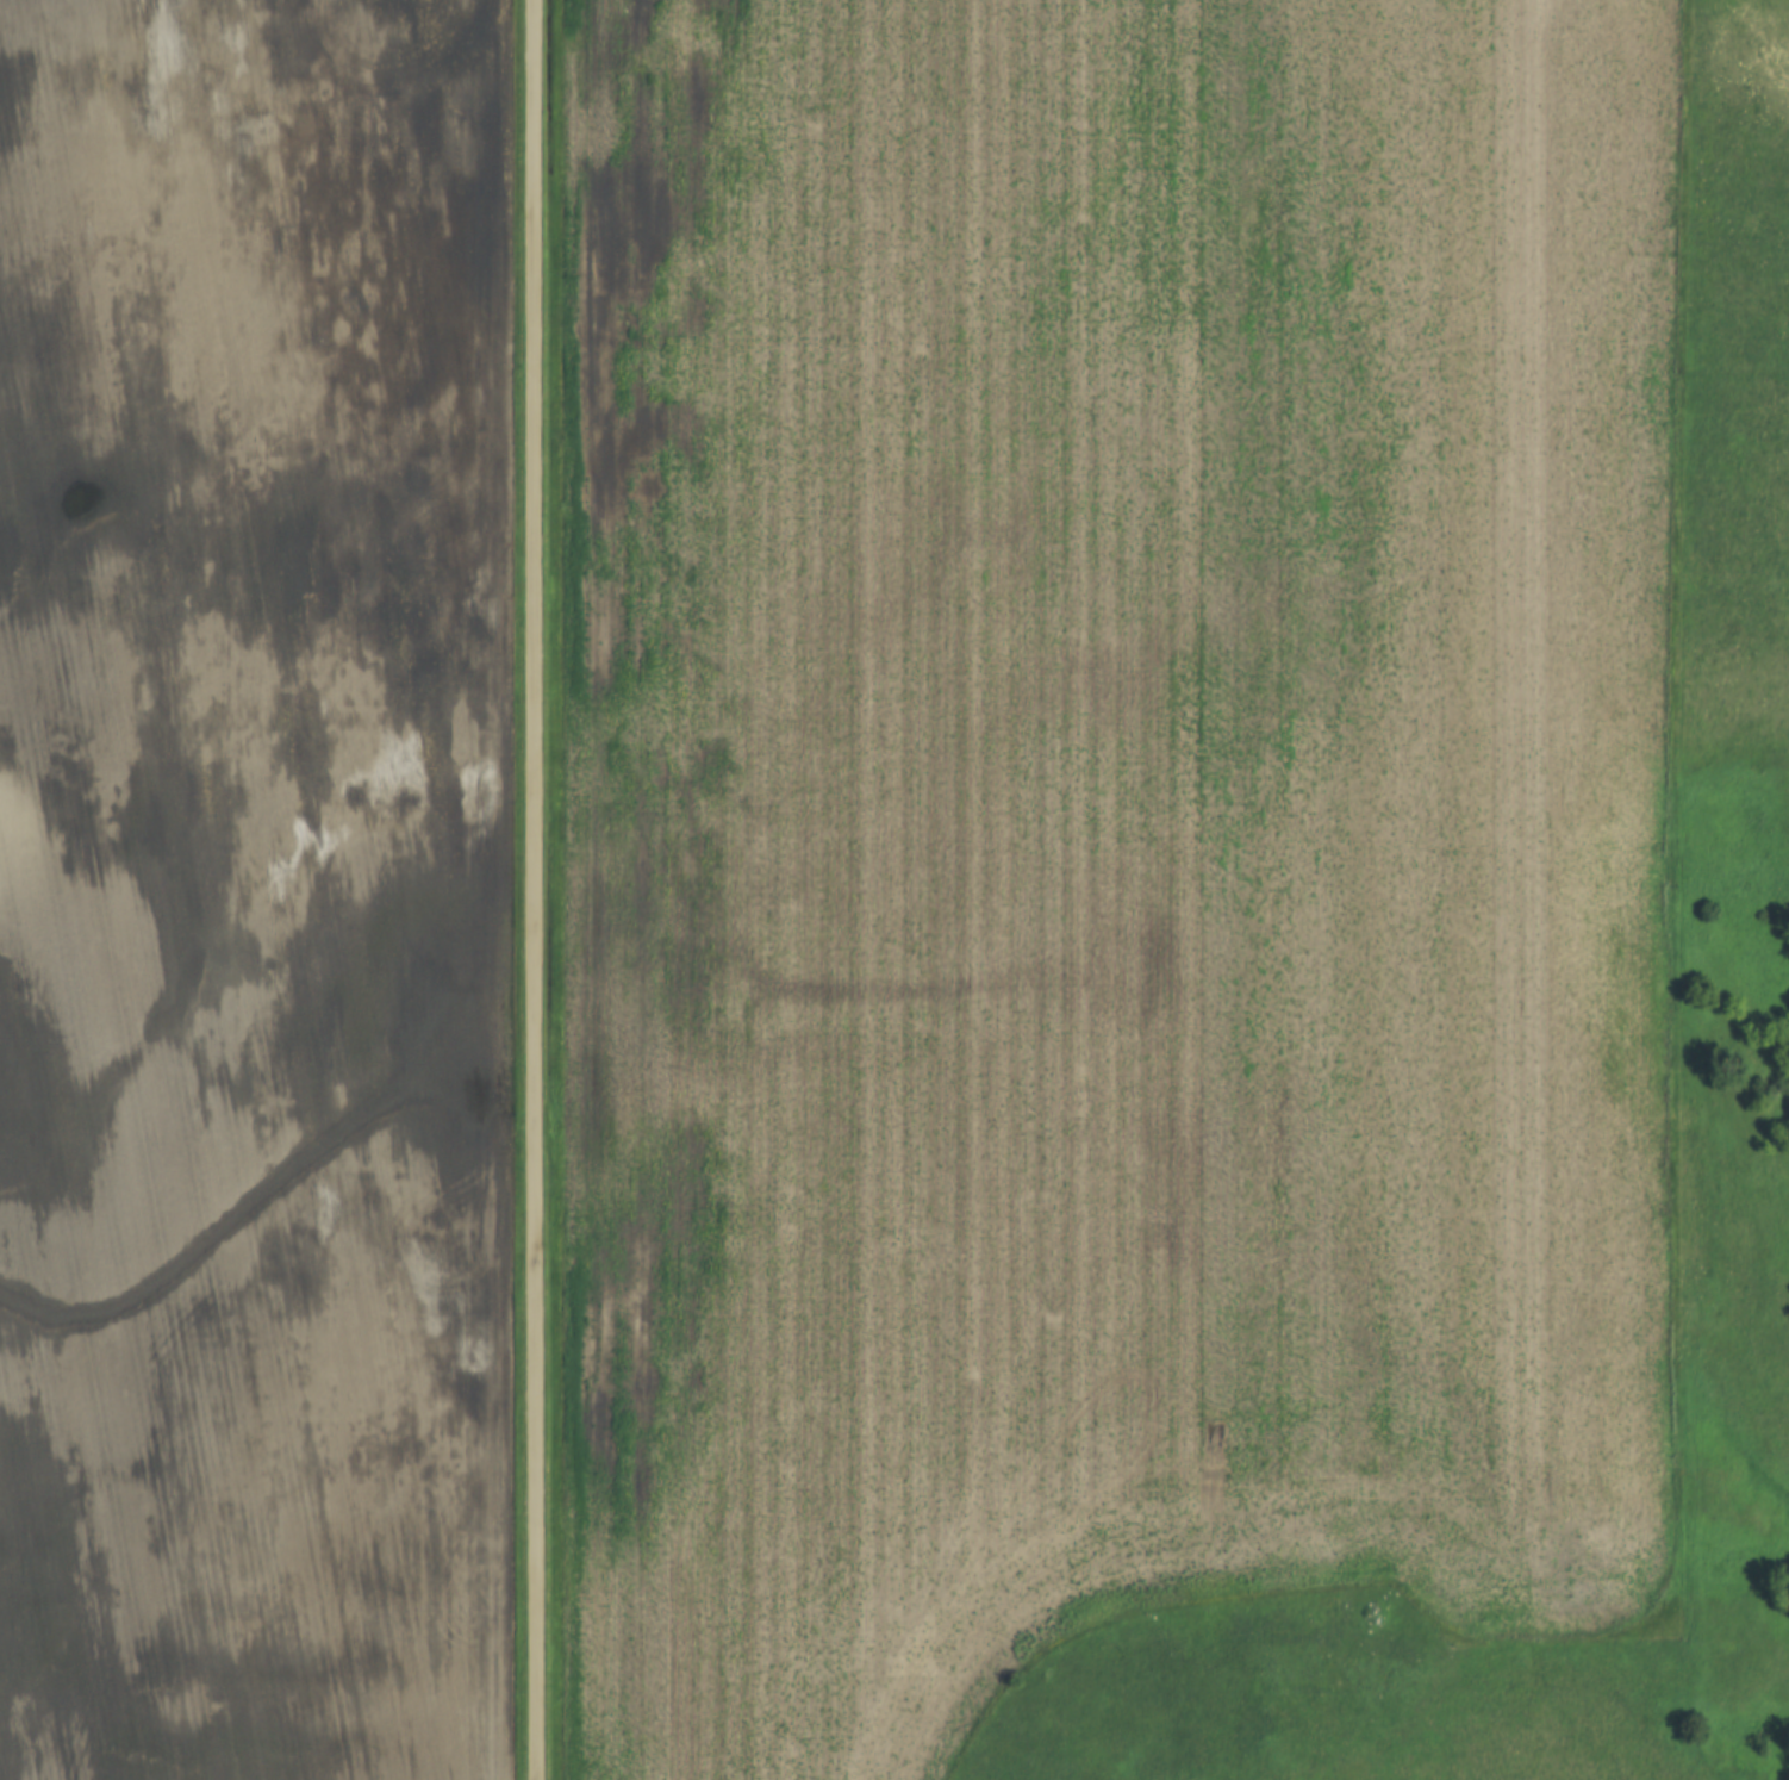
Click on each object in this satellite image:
road: (535, 890)

